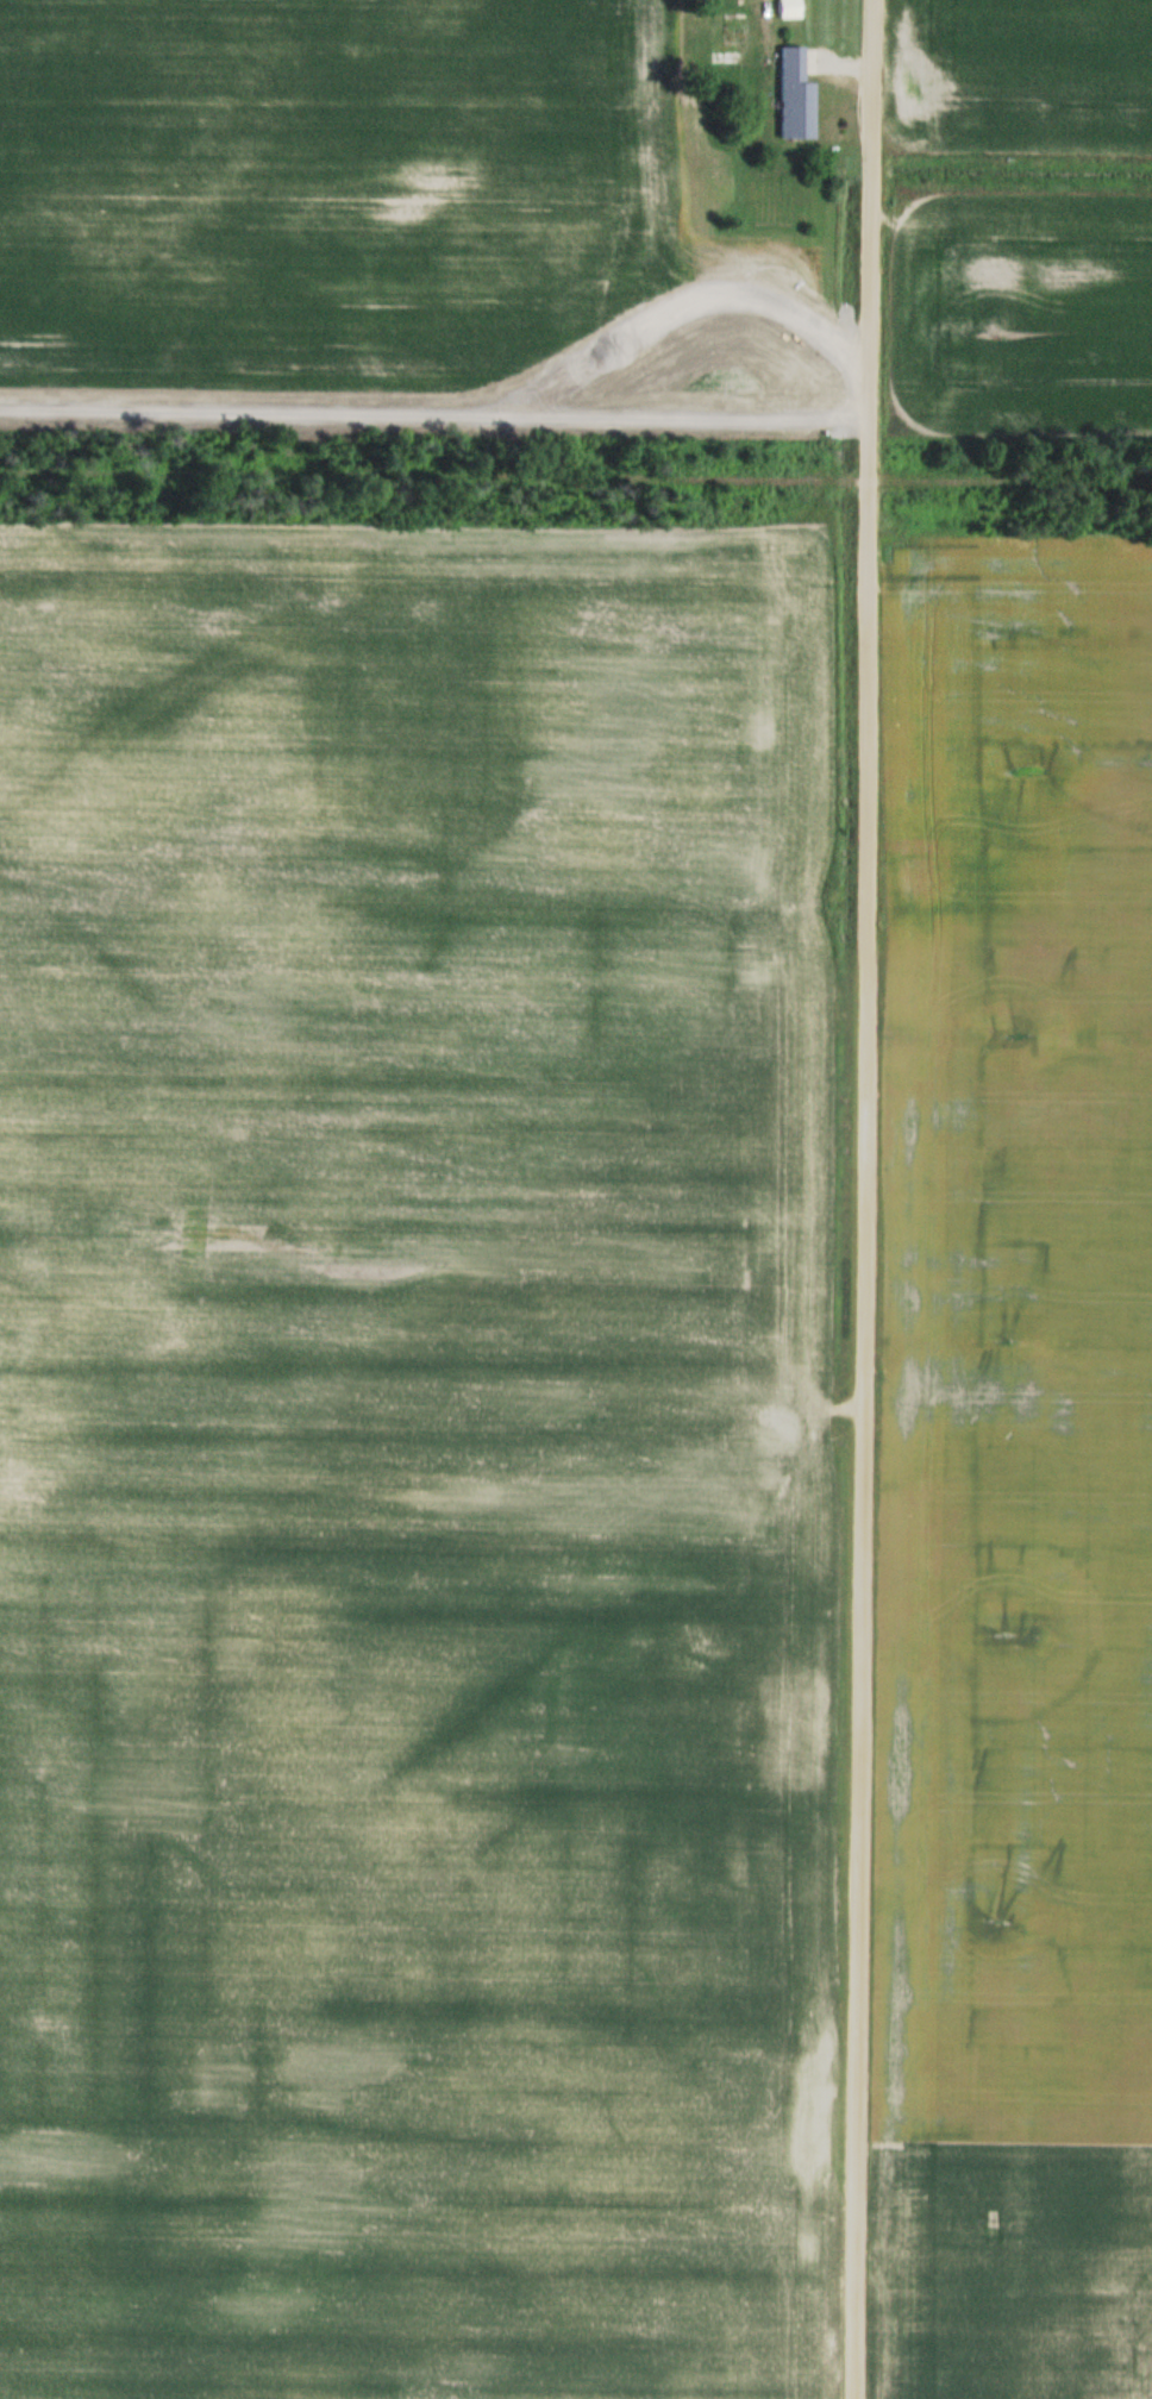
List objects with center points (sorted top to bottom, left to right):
building: (787, 8)
building: (733, 30)
building: (791, 94)
road: (432, 405)
railway: (1016, 478)
road: (858, 1199)

